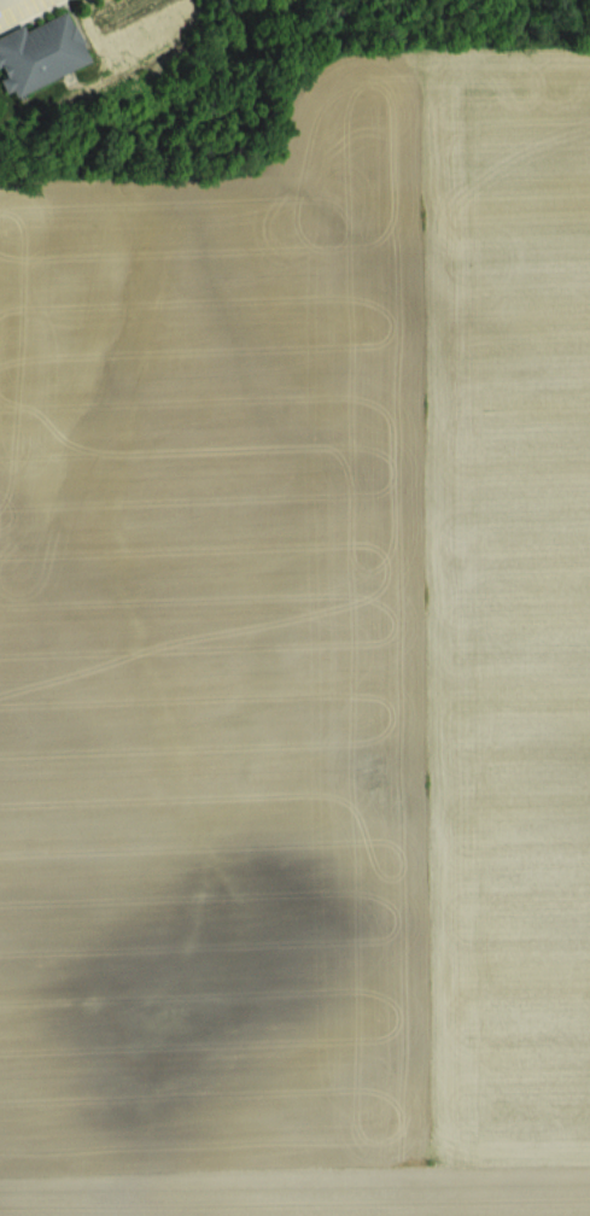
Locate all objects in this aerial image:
building: (40, 52)

